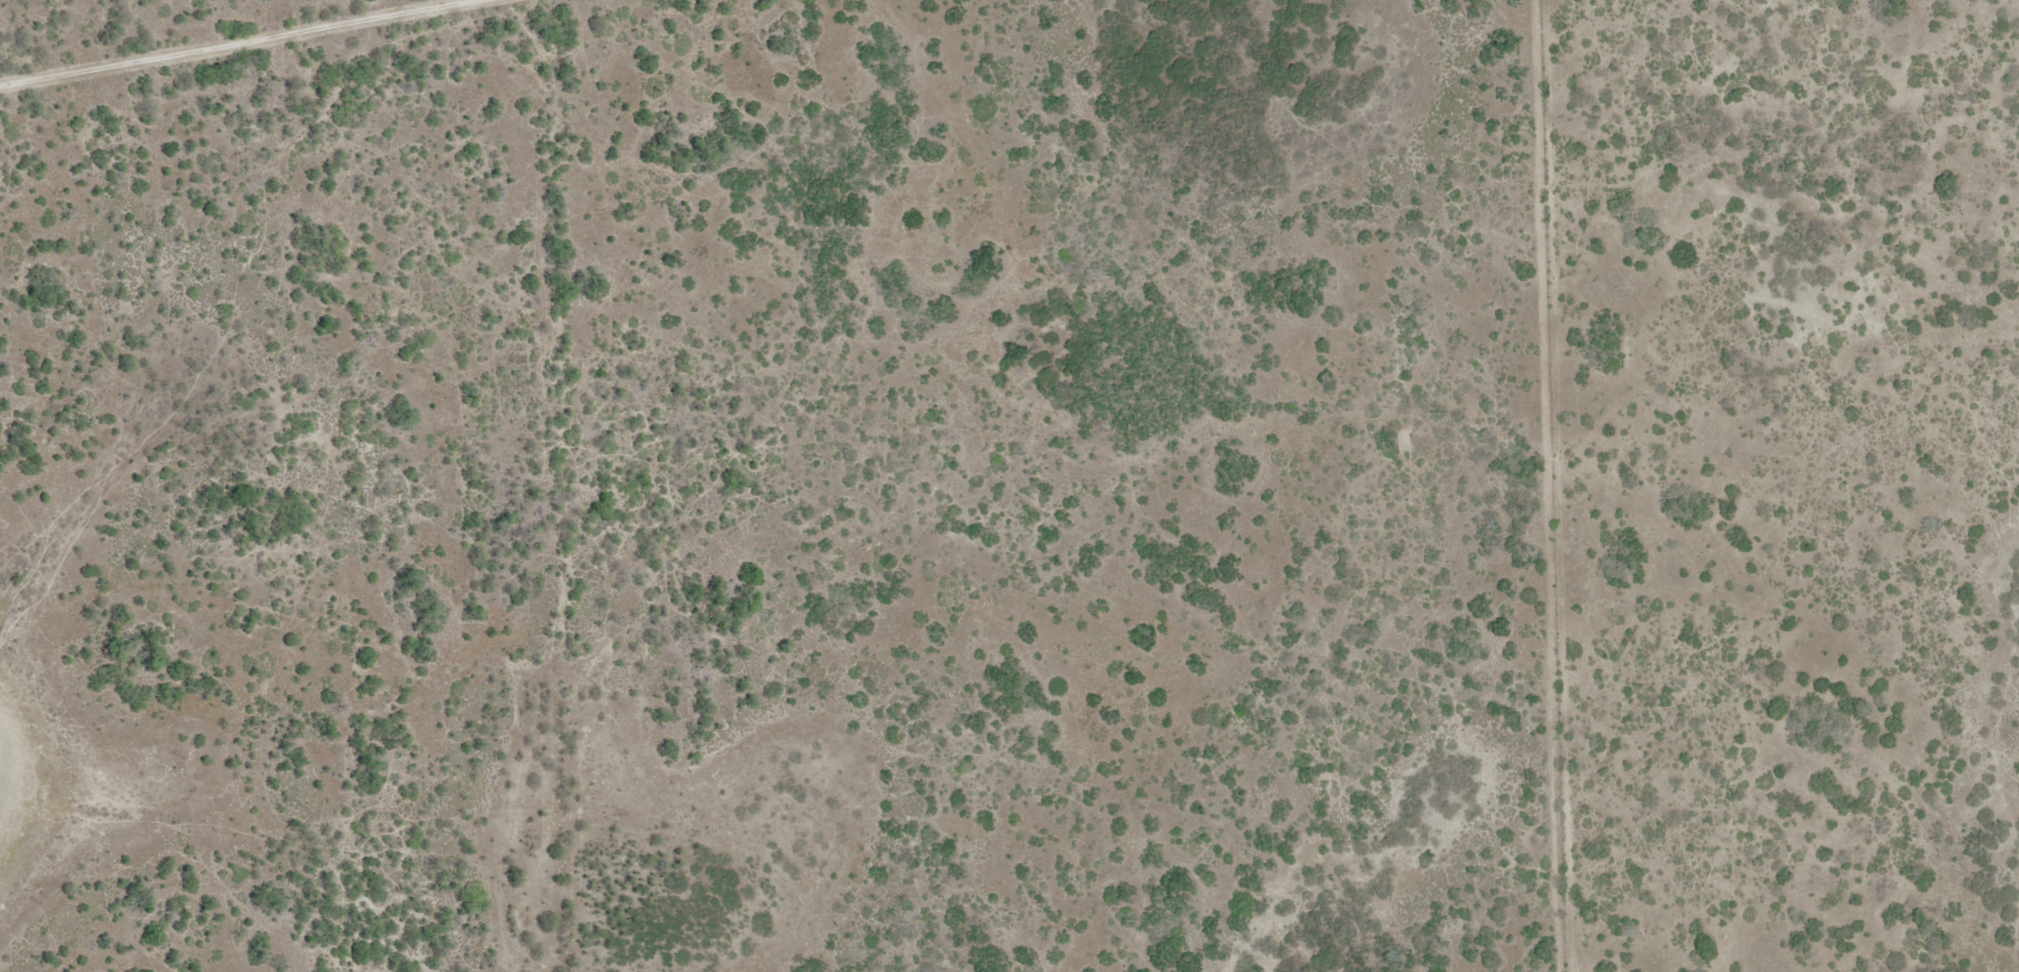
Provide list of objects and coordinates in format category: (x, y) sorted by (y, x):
road: (257, 59)

